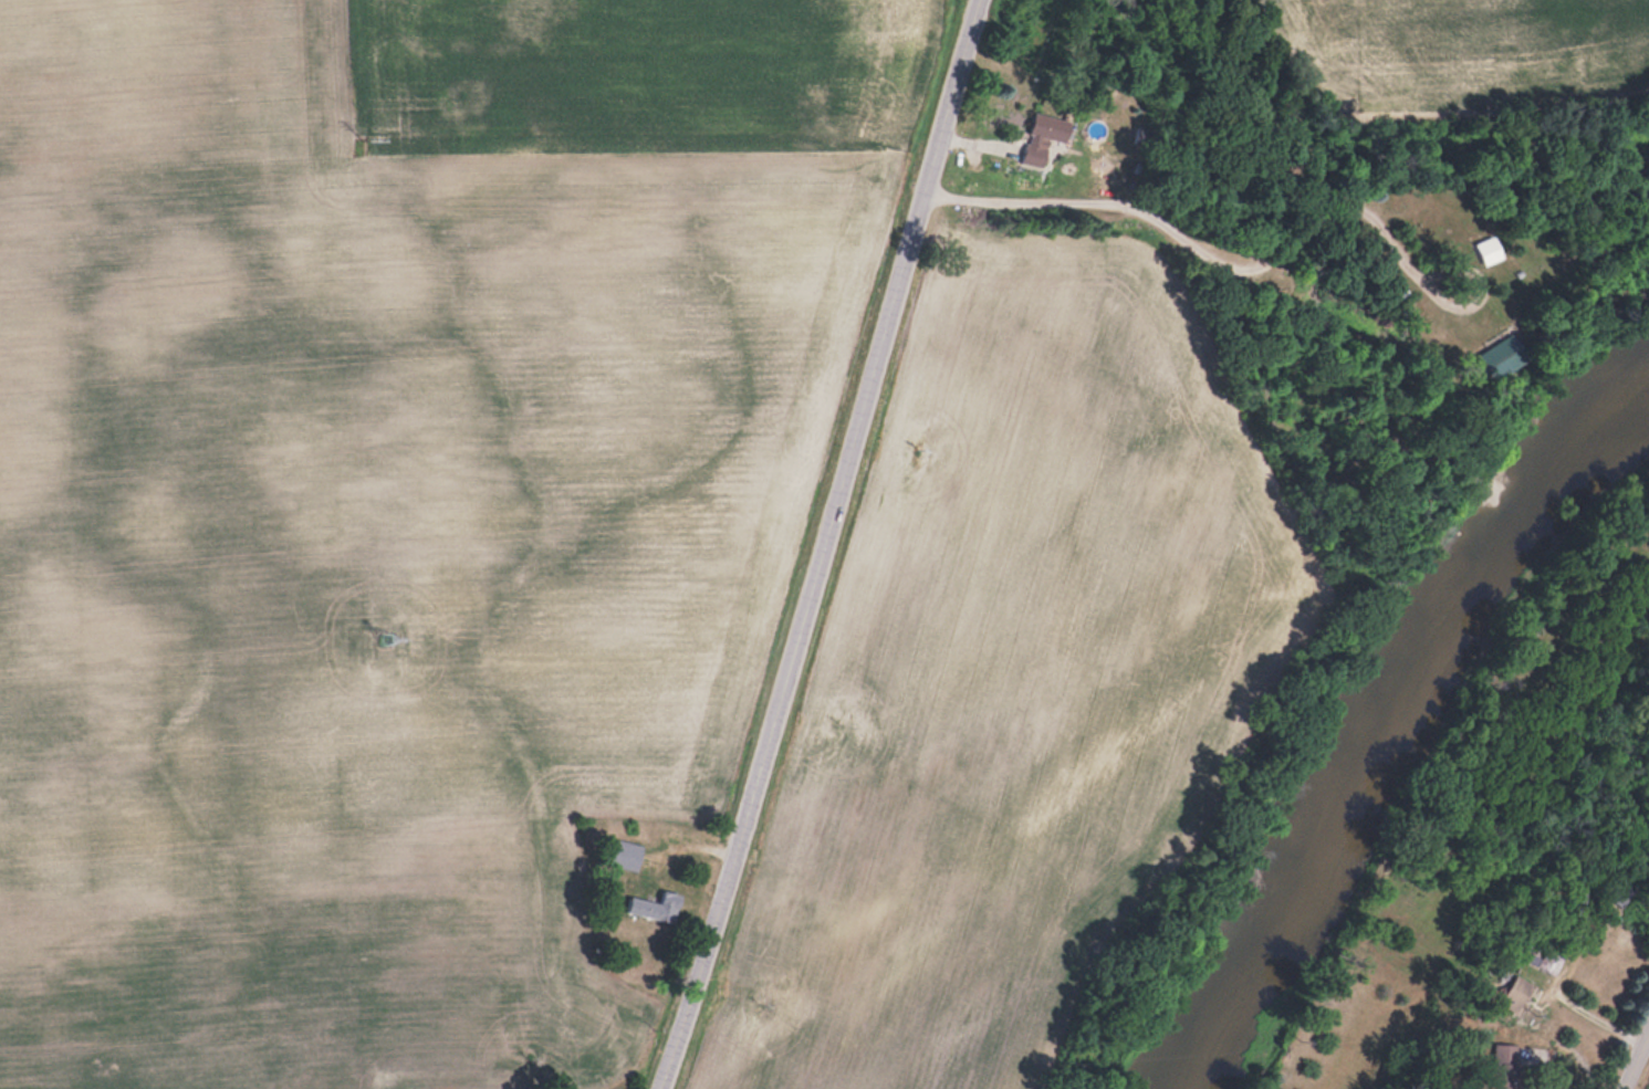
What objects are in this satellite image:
building: (1044, 136)
power tower: (366, 147)
road: (926, 176)
road: (1212, 239)
building: (1489, 249)
building: (1505, 355)
power tower: (390, 640)
river: (1389, 712)
road: (776, 722)
building: (622, 852)
building: (1620, 891)
building: (657, 905)
building: (1530, 978)
road: (1638, 1067)
building: (1504, 1077)

